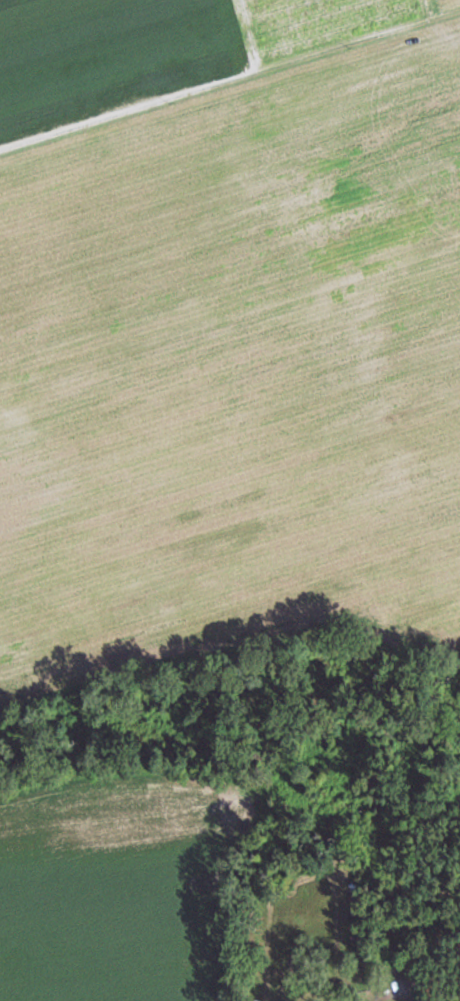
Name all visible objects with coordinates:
road: (180, 53)

